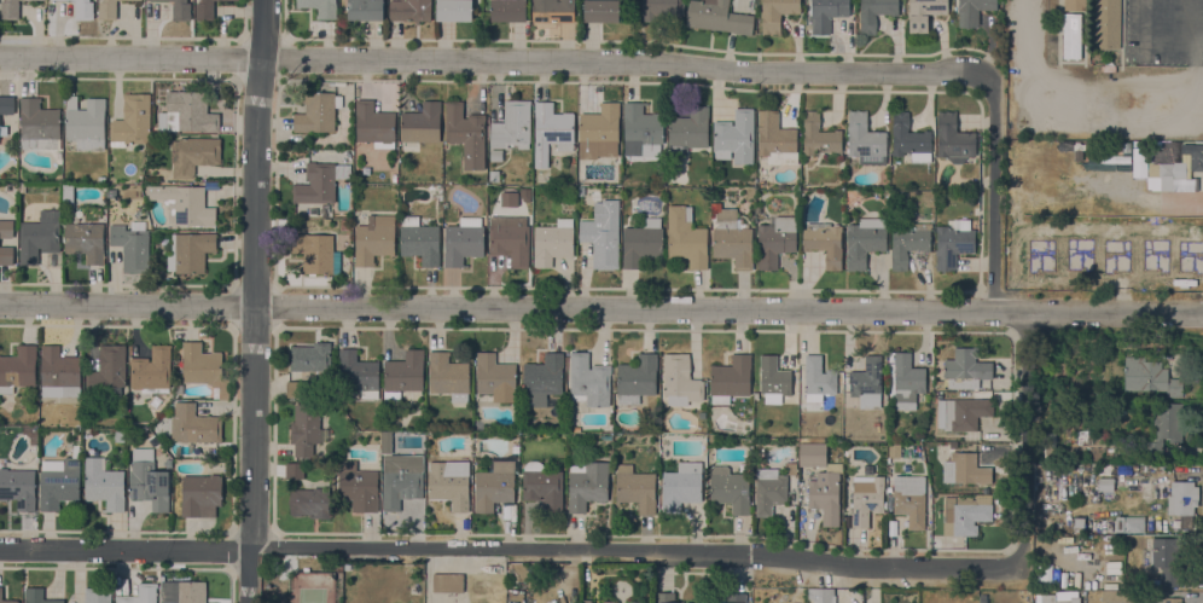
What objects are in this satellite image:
building: (39, 0)
building: (51, 0)
building: (1075, 5)
building: (320, 7)
building: (659, 8)
building: (10, 10)
building: (83, 10)
building: (106, 10)
building: (180, 10)
building: (207, 10)
building: (365, 10)
building: (409, 10)
building: (454, 10)
building: (508, 11)
building: (552, 11)
building: (601, 11)
building: (972, 11)
building: (777, 13)
building: (874, 13)
building: (924, 13)
building: (826, 15)
building: (717, 17)
building: (1105, 24)
road: (1199, 25)
building: (1071, 36)
road: (1149, 42)
road: (490, 60)
road: (1109, 100)
building: (6, 105)
building: (190, 112)
building: (318, 112)
building: (132, 121)
building: (86, 123)
building: (422, 123)
building: (39, 124)
building: (374, 124)
building: (512, 126)
building: (156, 129)
building: (643, 129)
building: (688, 131)
building: (551, 132)
building: (599, 132)
building: (466, 134)
building: (818, 135)
building: (734, 137)
building: (953, 138)
building: (775, 139)
building: (909, 139)
building: (865, 140)
building: (192, 155)
building: (495, 155)
building: (1193, 156)
building: (1167, 172)
building: (493, 176)
building: (319, 182)
road: (993, 193)
building: (187, 207)
building: (110, 213)
building: (326, 221)
building: (344, 225)
building: (6, 228)
building: (603, 234)
building: (39, 237)
building: (686, 237)
building: (374, 239)
building: (732, 239)
building: (85, 240)
building: (419, 240)
building: (510, 240)
building: (775, 240)
building: (463, 242)
building: (553, 242)
building: (864, 242)
building: (908, 242)
building: (641, 243)
building: (824, 243)
building: (953, 244)
building: (132, 247)
building: (190, 251)
building: (316, 254)
building: (6, 255)
road: (254, 301)
road: (600, 309)
building: (312, 360)
building: (966, 367)
building: (18, 369)
building: (107, 369)
building: (151, 369)
building: (204, 369)
building: (59, 372)
building: (403, 373)
building: (358, 375)
building: (448, 376)
building: (495, 377)
building: (544, 377)
building: (1150, 377)
building: (637, 378)
building: (773, 378)
building: (731, 379)
building: (818, 379)
building: (588, 381)
building: (680, 381)
building: (907, 381)
building: (867, 383)
building: (940, 384)
building: (295, 389)
building: (702, 414)
building: (963, 414)
building: (194, 425)
building: (1166, 425)
building: (306, 429)
building: (118, 436)
road: (1024, 436)
building: (1083, 436)
building: (1048, 445)
building: (515, 450)
building: (894, 450)
building: (469, 460)
building: (382, 462)
building: (167, 463)
building: (965, 466)
building: (790, 469)
building: (295, 470)
building: (147, 480)
building: (401, 480)
building: (821, 482)
building: (58, 483)
building: (104, 485)
building: (587, 485)
building: (1105, 485)
building: (449, 486)
building: (494, 486)
building: (541, 486)
building: (681, 486)
building: (358, 487)
building: (18, 488)
building: (635, 488)
building: (730, 488)
building: (768, 491)
building: (200, 495)
building: (1182, 497)
building: (866, 498)
building: (909, 499)
building: (310, 503)
building: (966, 512)
building: (1120, 523)
building: (1134, 526)
road: (123, 550)
road: (633, 551)
building: (1163, 558)
building: (447, 582)
building: (188, 591)
building: (0, 593)
building: (97, 595)
building: (140, 595)
building: (821, 595)
building: (37, 596)
building: (1121, 596)
building: (664, 597)
building: (736, 598)
building: (982, 598)
building: (1047, 599)
building: (1172, 599)

